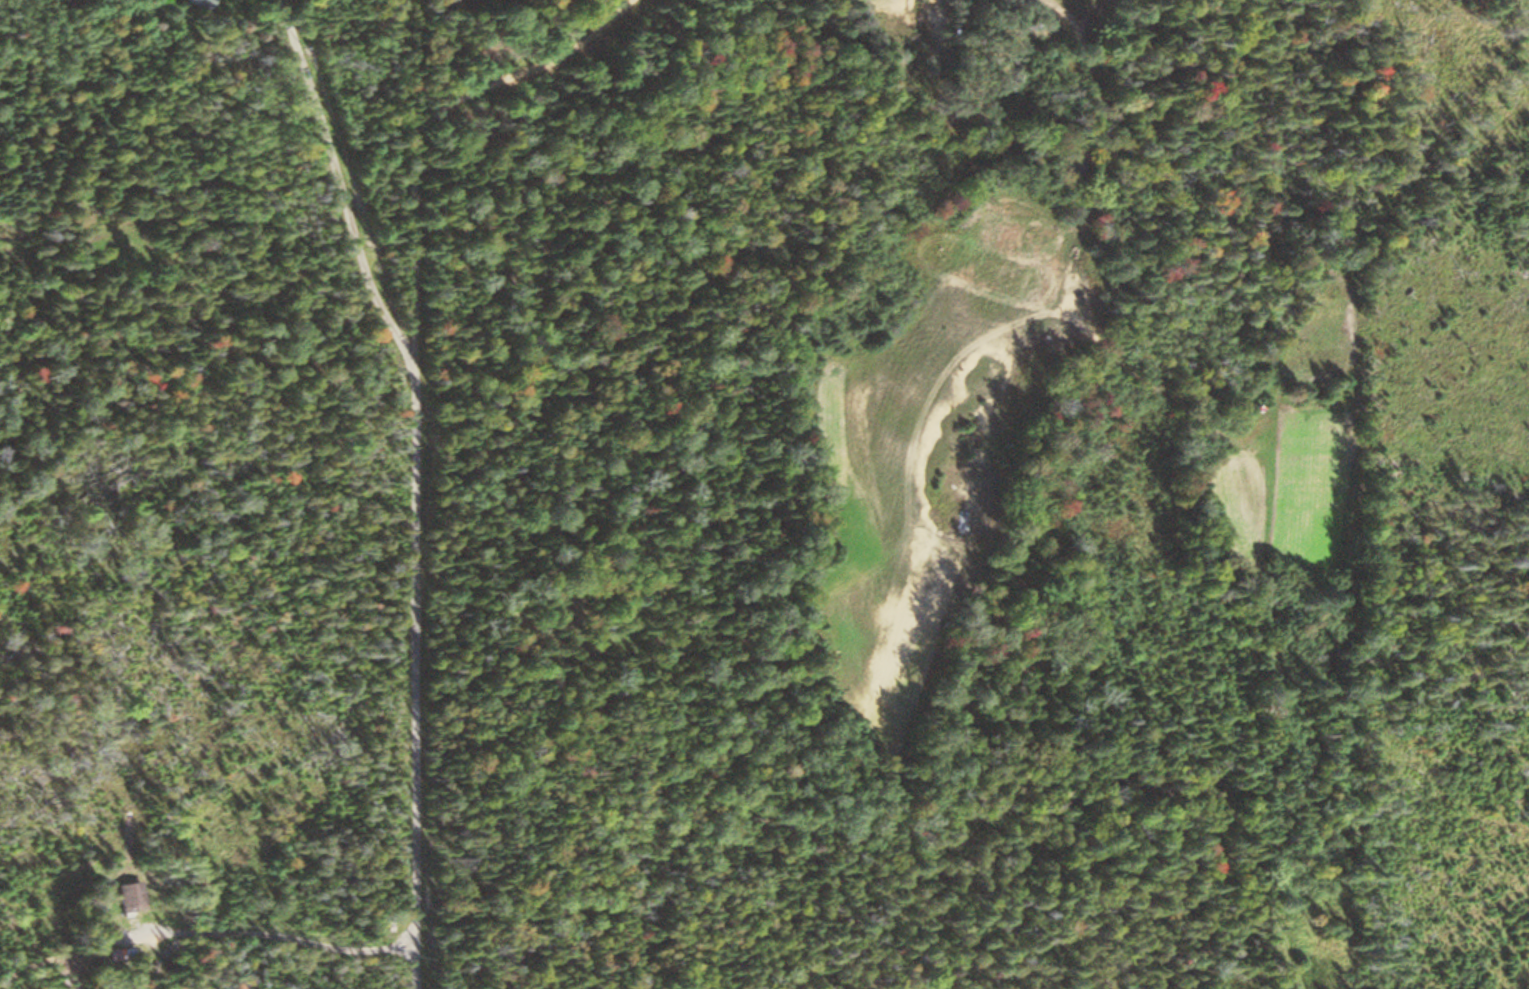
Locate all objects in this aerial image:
building: (202, 2)
road: (402, 536)
building: (133, 895)

